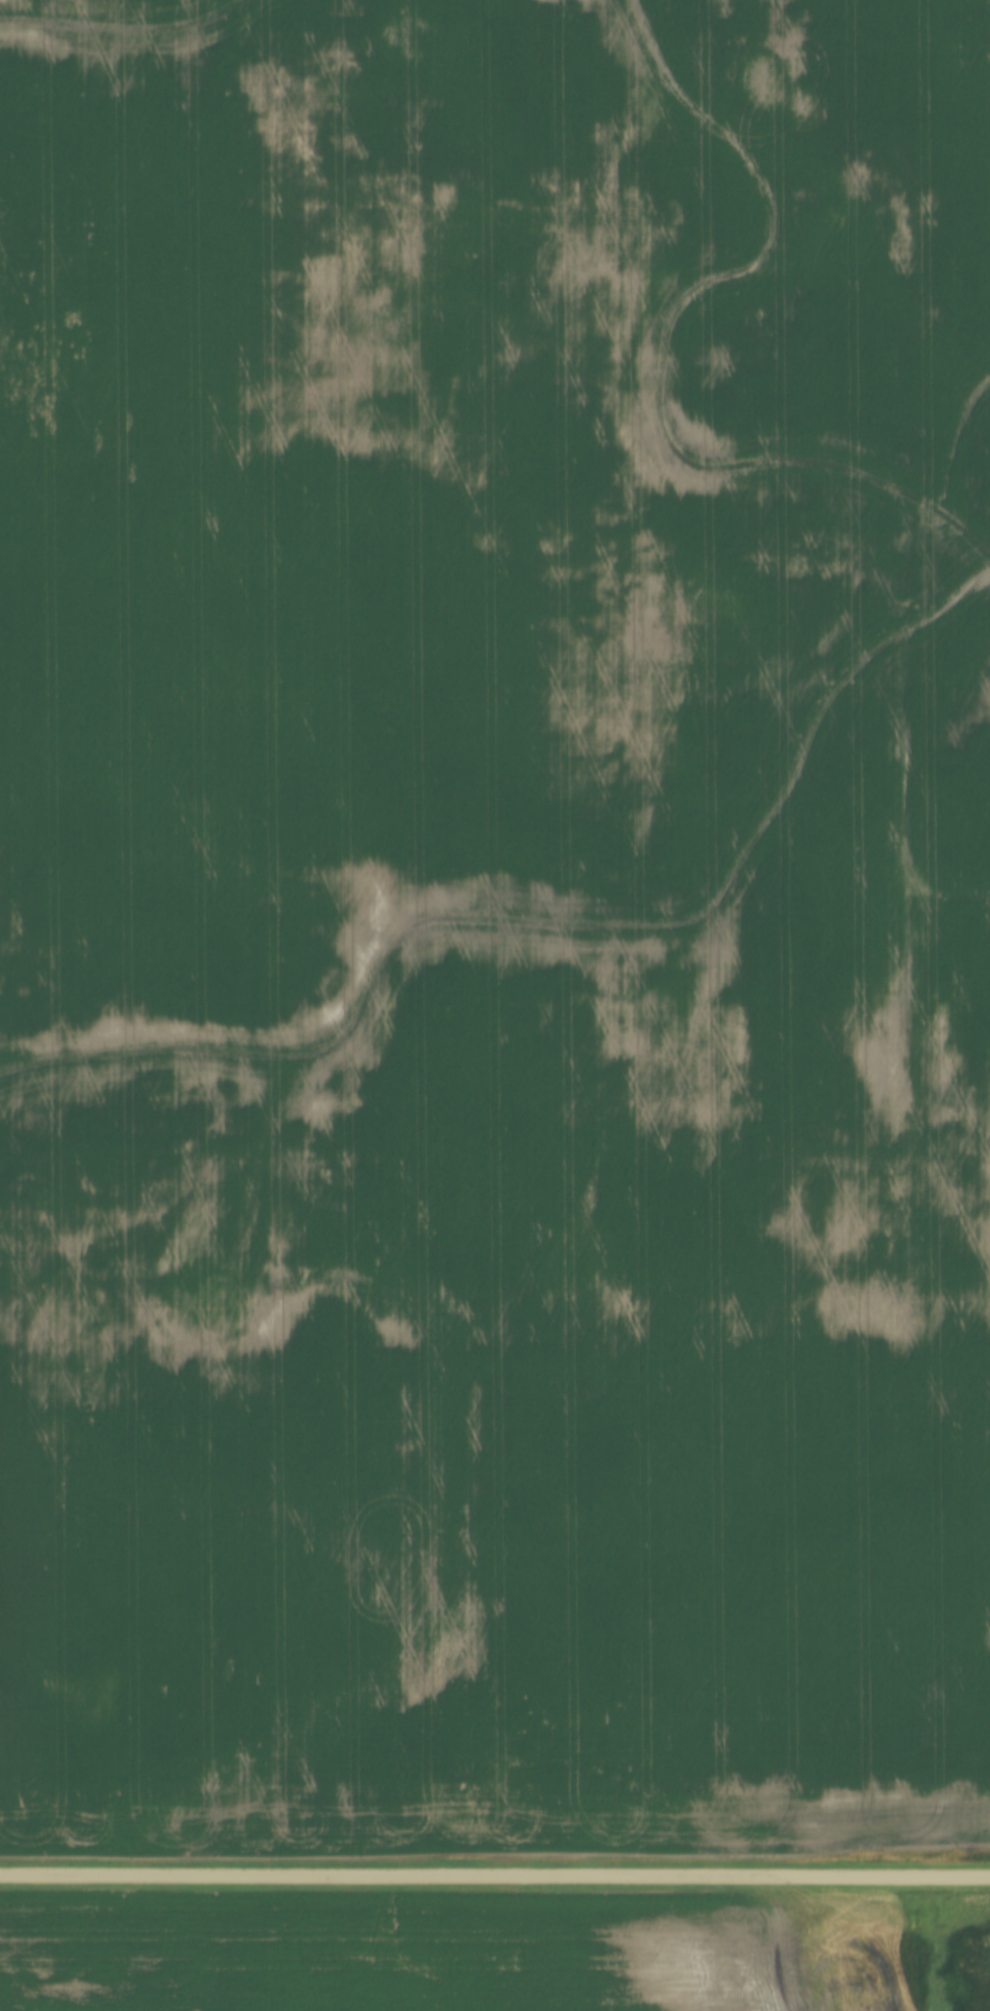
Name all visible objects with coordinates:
road: (495, 1879)

